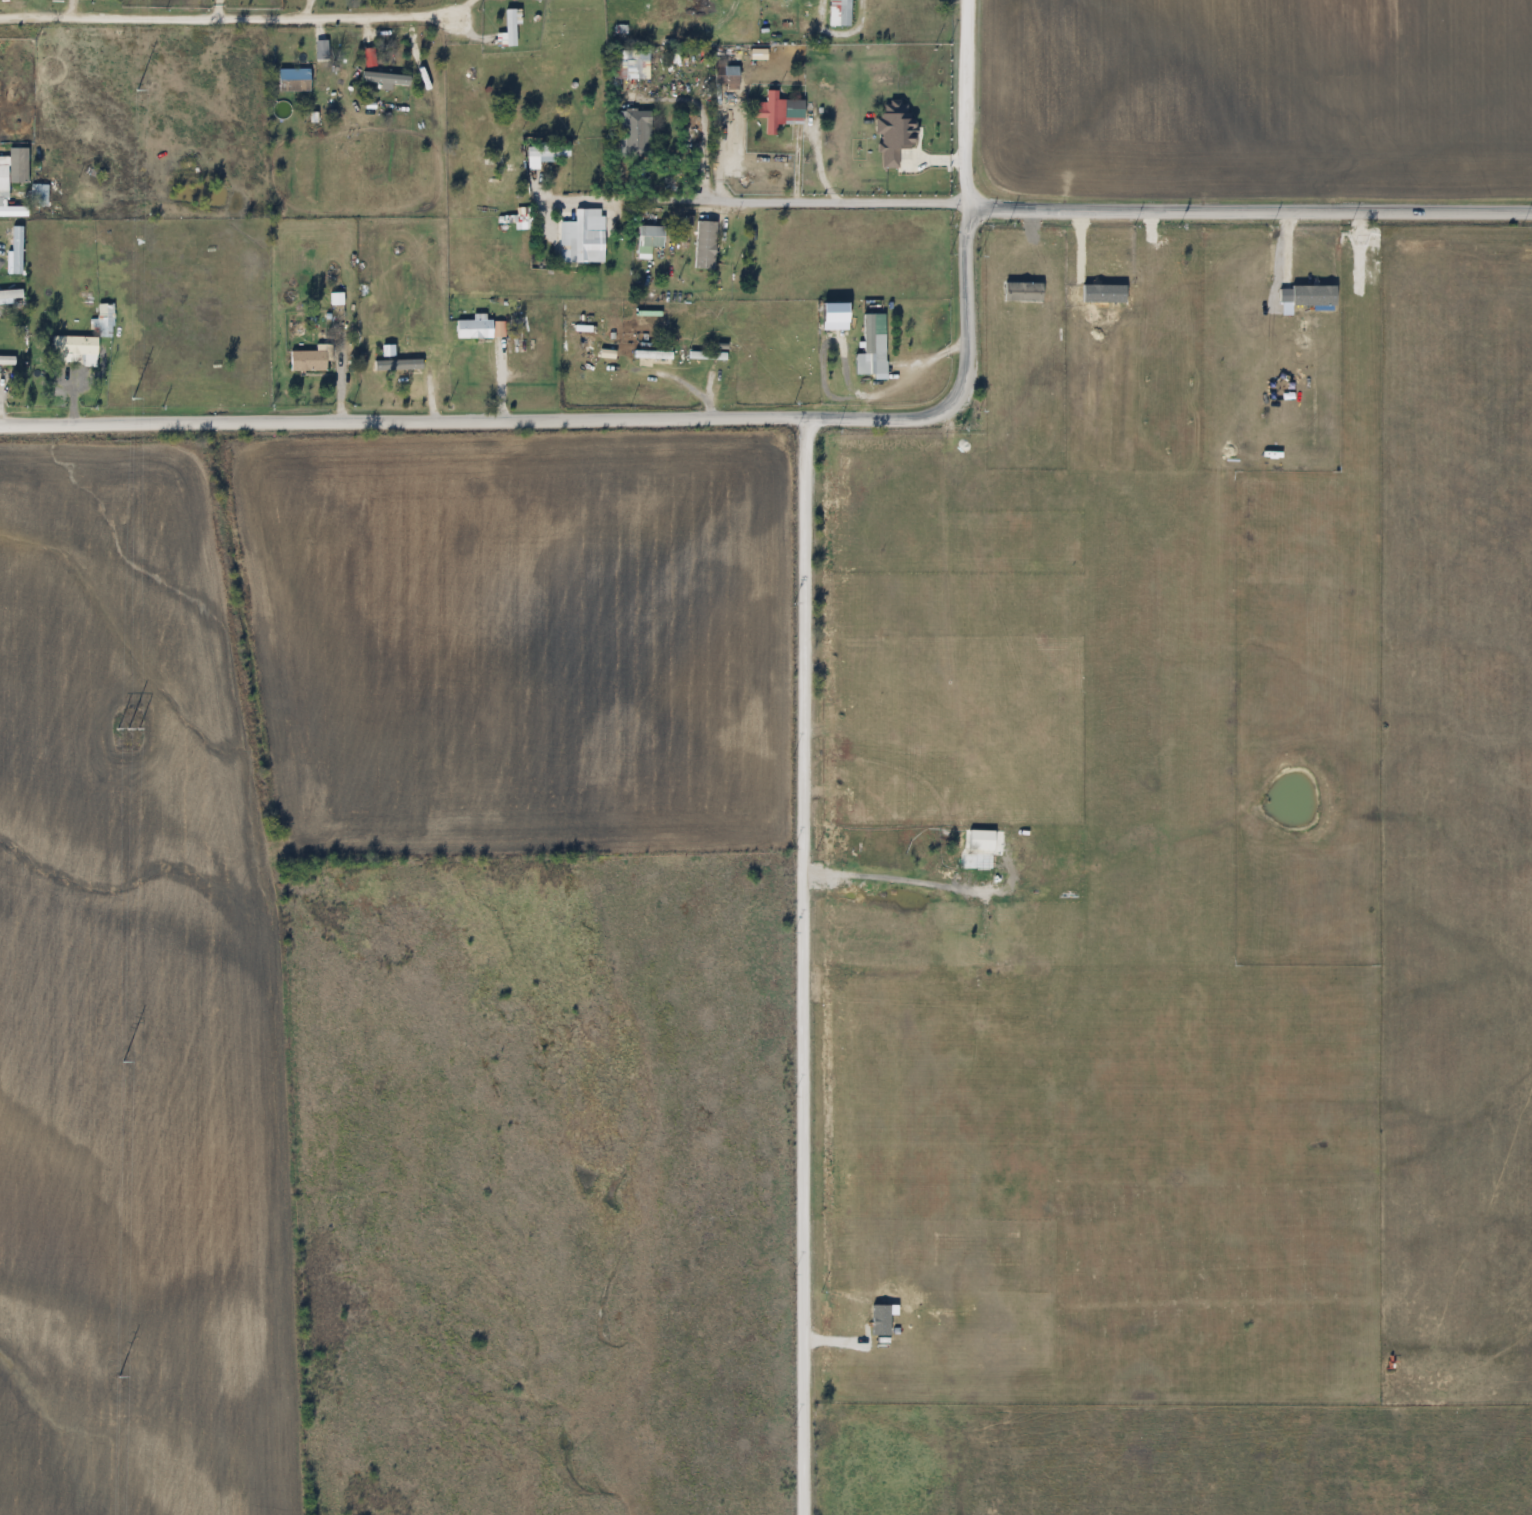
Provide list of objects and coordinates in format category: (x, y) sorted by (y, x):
building: (849, 13)
road: (227, 17)
building: (513, 28)
building: (632, 67)
building: (388, 75)
building: (730, 77)
building: (298, 81)
power tower: (137, 91)
building: (773, 113)
building: (639, 134)
building: (550, 152)
building: (7, 175)
building: (41, 196)
road: (747, 203)
road: (1246, 206)
building: (586, 235)
building: (654, 240)
building: (709, 246)
road: (959, 276)
building: (325, 303)
building: (482, 329)
building: (870, 338)
building: (78, 347)
building: (8, 360)
building: (296, 365)
building: (384, 365)
building: (405, 366)
power tower: (133, 398)
road: (402, 428)
power tower: (127, 729)
building: (949, 833)
building: (985, 840)
road: (891, 879)
road: (802, 967)
power tower: (122, 1062)
power tower: (118, 1377)

